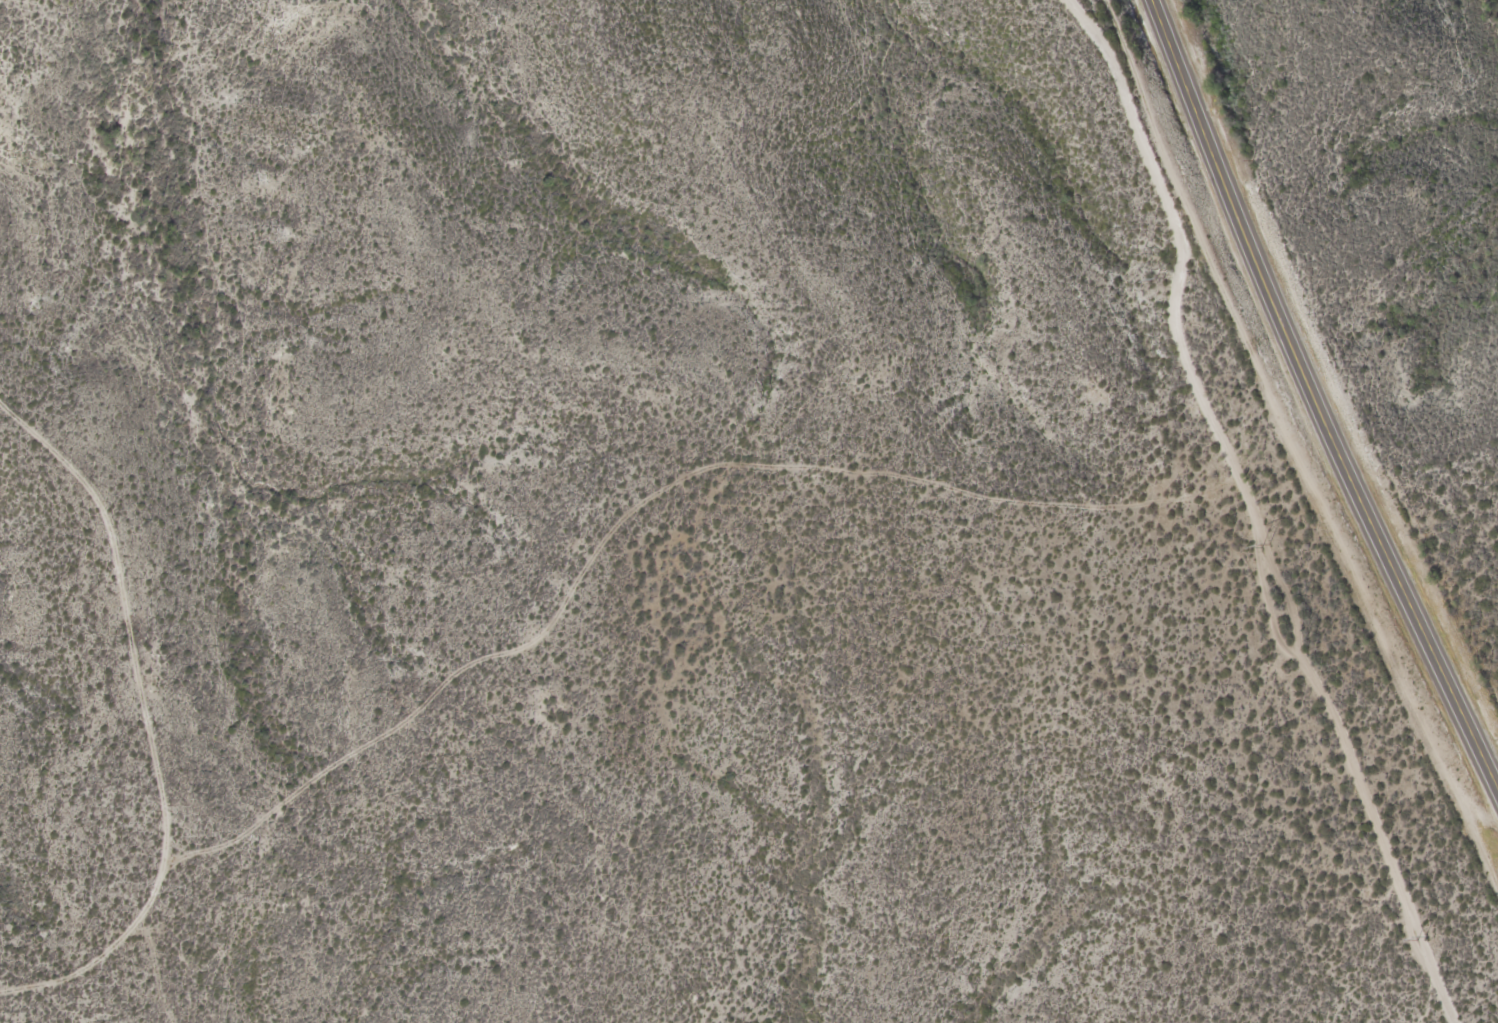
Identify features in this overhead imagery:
power tower: (1158, 280)
road: (1318, 392)
power tower: (1264, 548)
road: (151, 721)
power tower: (1414, 941)

